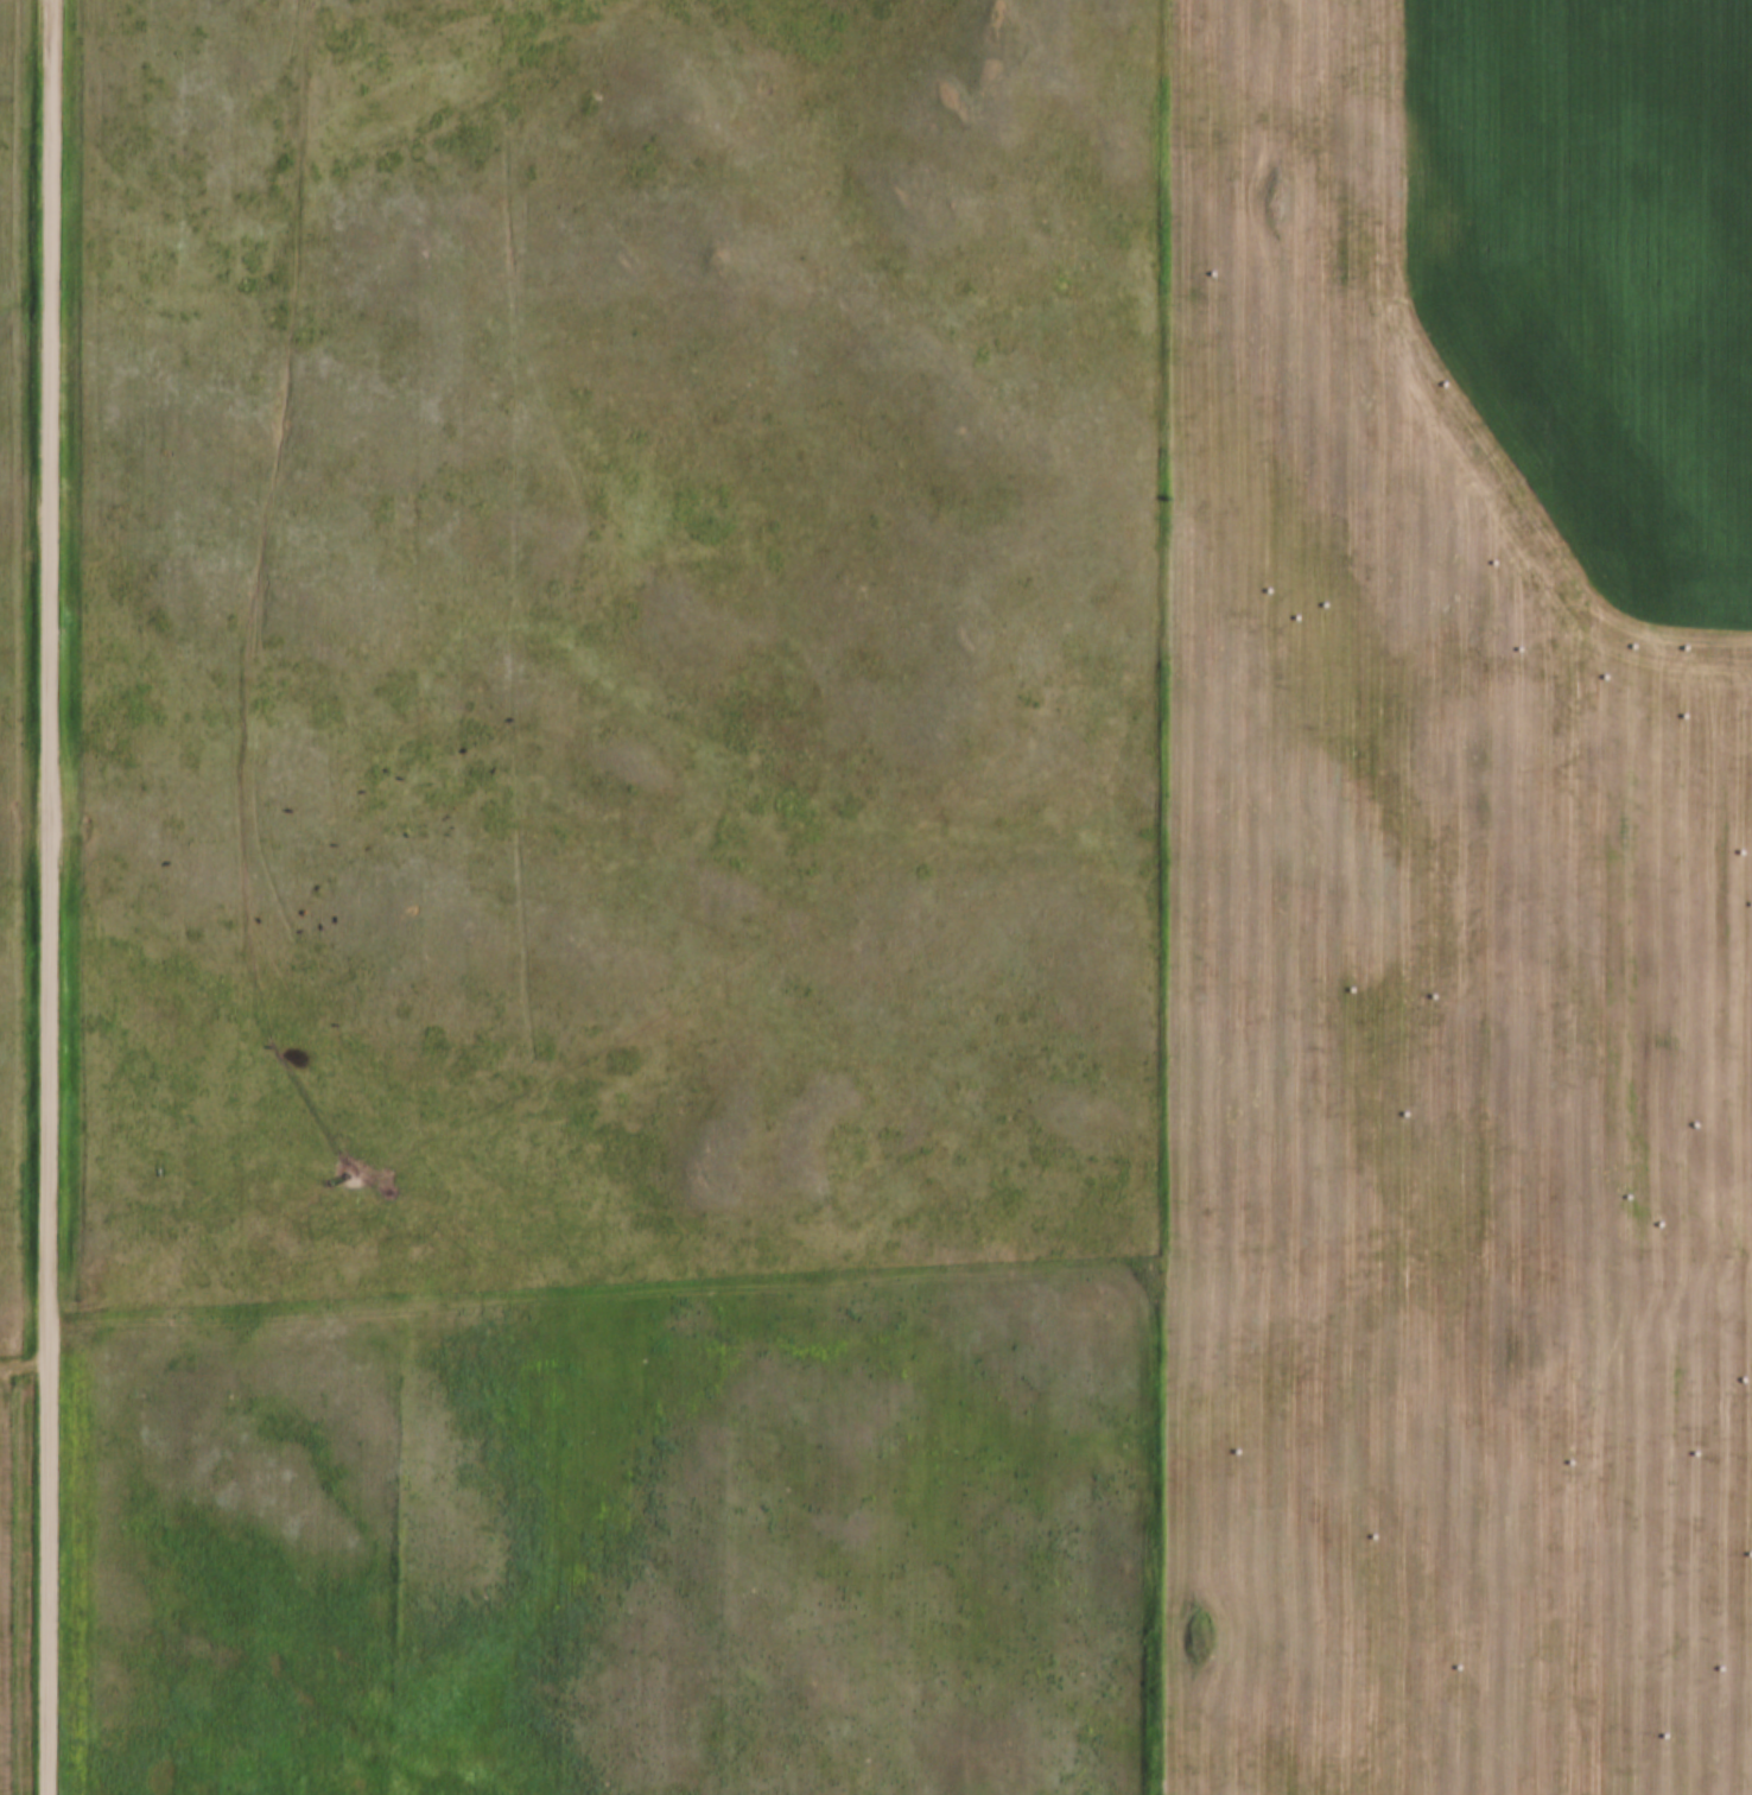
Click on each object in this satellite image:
road: (53, 896)

